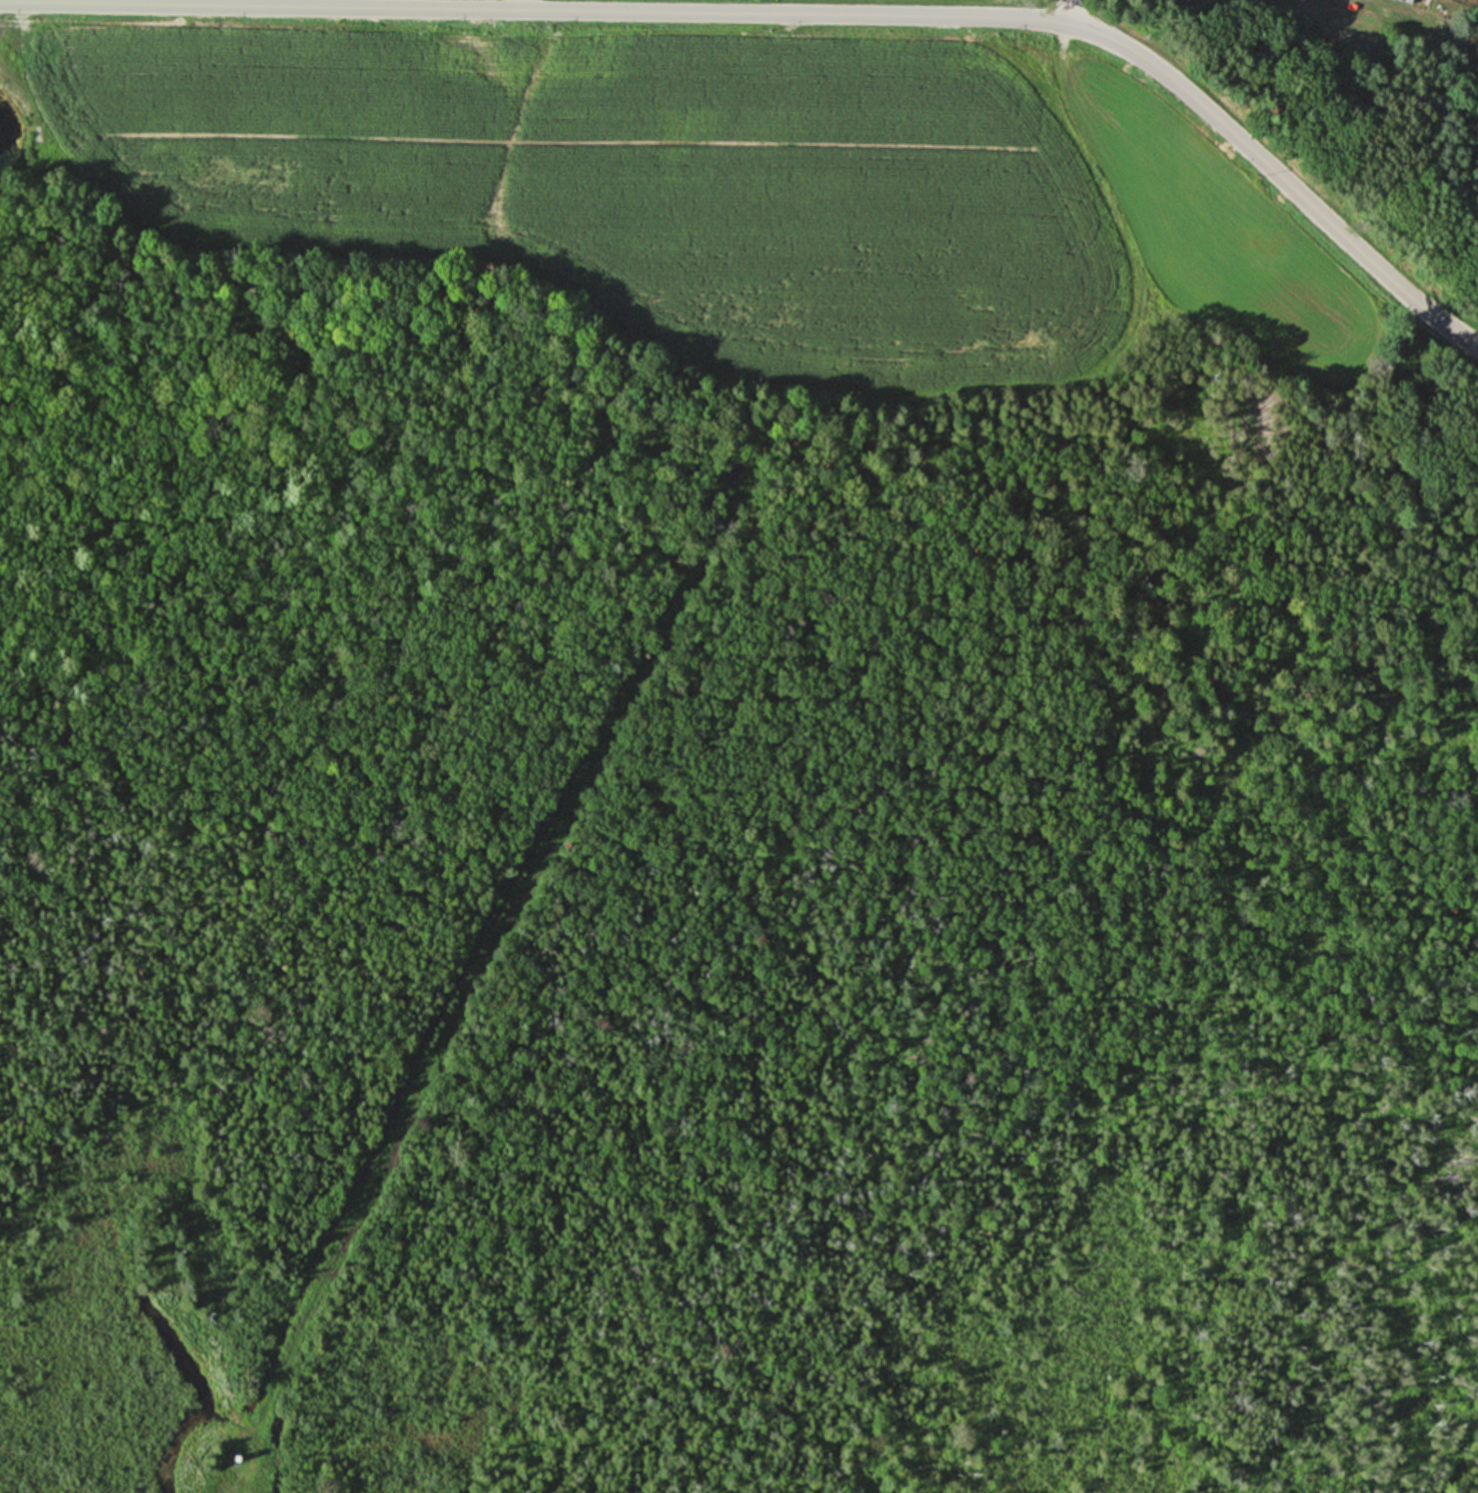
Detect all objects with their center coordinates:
road: (530, 4)
road: (797, 12)

